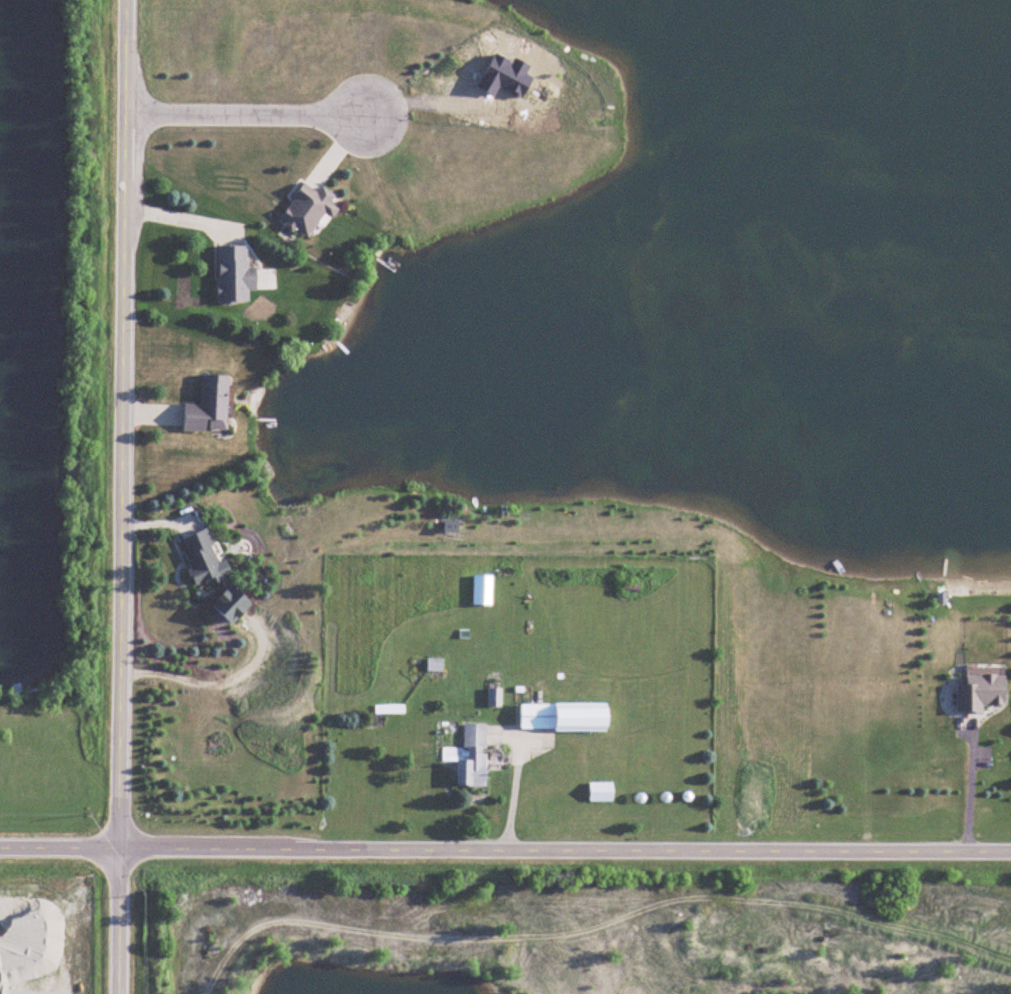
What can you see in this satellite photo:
road: (248, 116)
building: (308, 209)
building: (235, 274)
building: (209, 406)
road: (121, 496)
building: (202, 557)
building: (482, 590)
road: (215, 679)
building: (495, 697)
building: (565, 717)
building: (471, 756)
road: (512, 786)
road: (957, 789)
building: (601, 791)
road: (505, 852)

